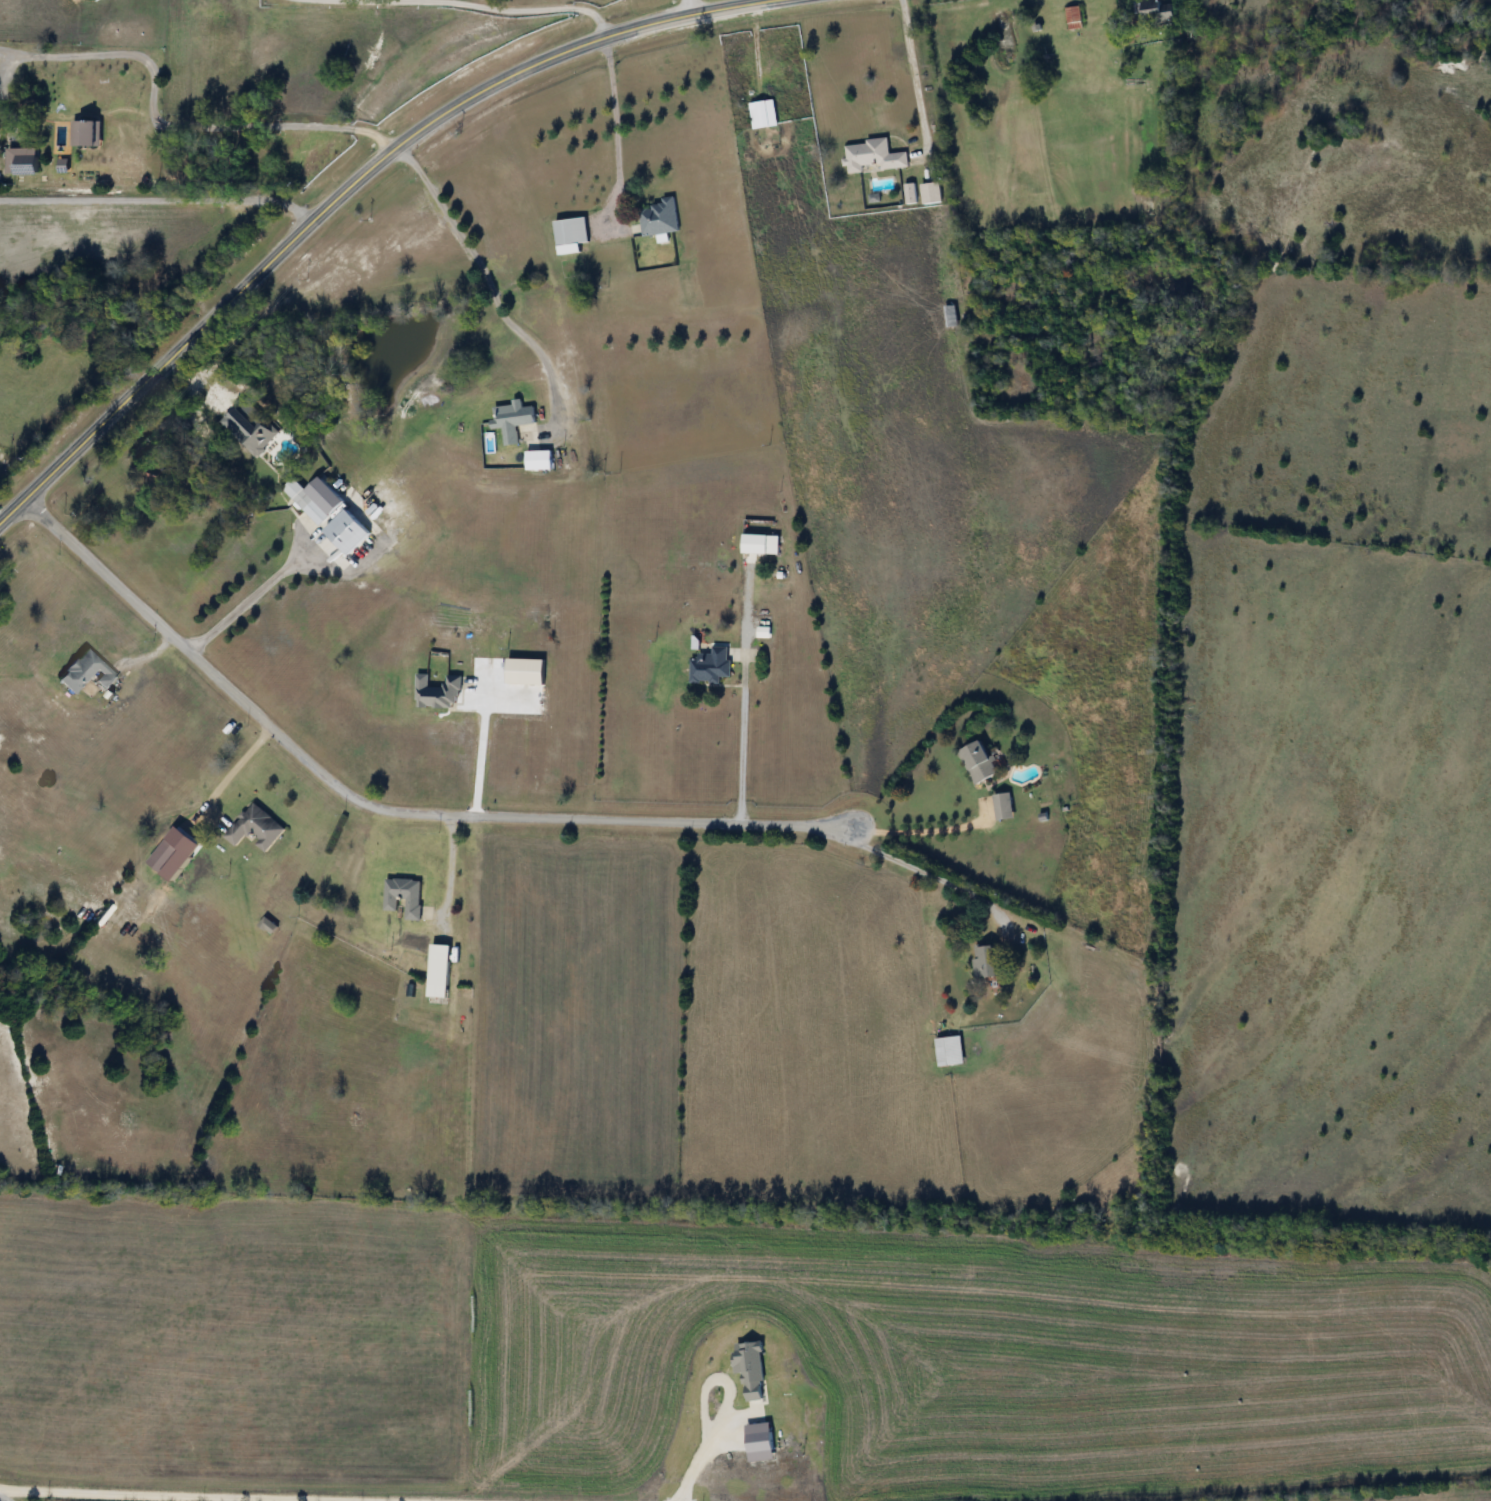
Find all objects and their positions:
road: (691, 6)
road: (528, 8)
building: (1162, 12)
building: (1075, 18)
road: (914, 70)
road: (613, 107)
building: (764, 115)
road: (171, 128)
building: (874, 158)
road: (343, 191)
building: (932, 194)
road: (157, 200)
building: (660, 219)
building: (571, 236)
road: (491, 292)
building: (951, 317)
building: (512, 420)
building: (260, 435)
building: (539, 461)
building: (155, 475)
building: (307, 502)
building: (348, 532)
building: (761, 544)
road: (253, 596)
building: (711, 666)
building: (526, 672)
building: (86, 673)
building: (439, 694)
road: (735, 709)
road: (481, 750)
building: (979, 763)
road: (236, 765)
building: (1004, 807)
road: (380, 808)
road: (930, 827)
building: (256, 829)
building: (166, 857)
road: (441, 867)
road: (937, 877)
building: (404, 898)
building: (986, 962)
building: (438, 998)
building: (950, 1052)
road: (712, 1377)
road: (689, 1468)
road: (182, 1495)
road: (1, 1499)

